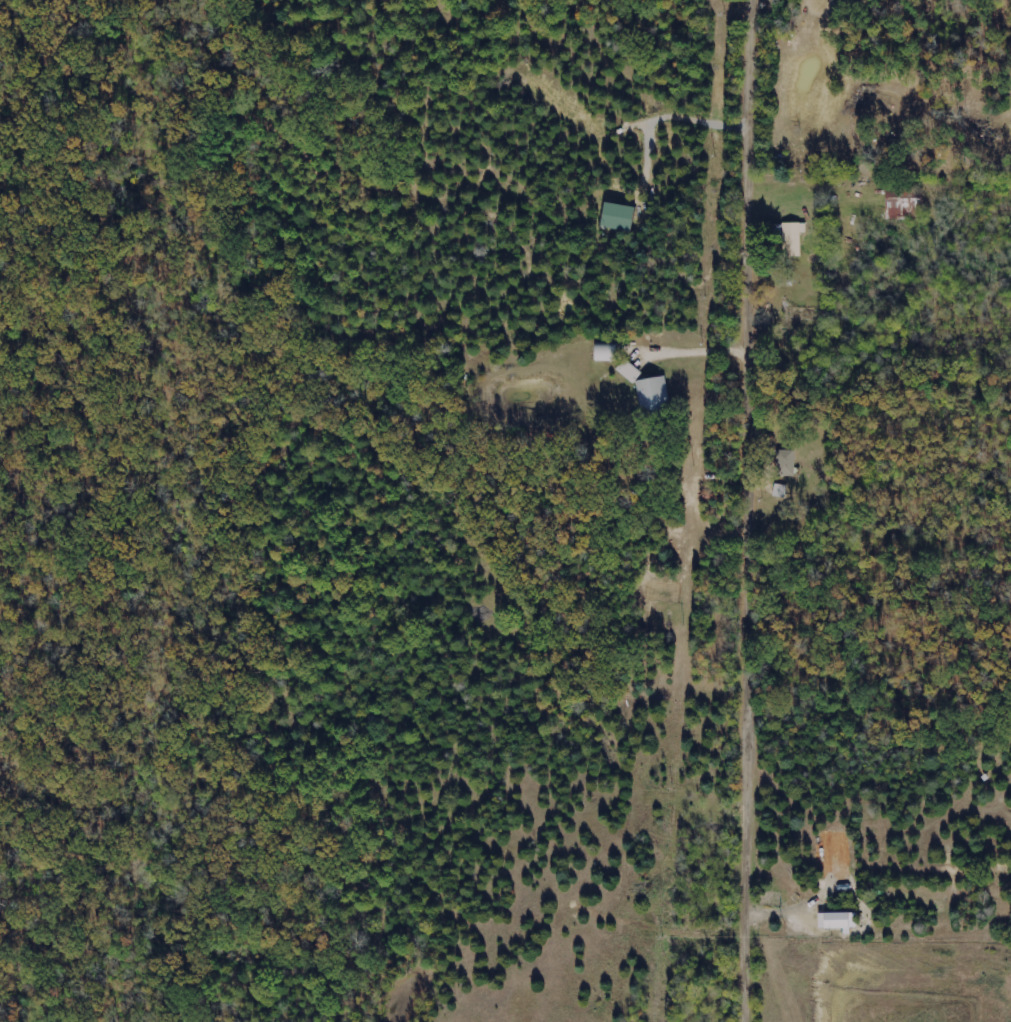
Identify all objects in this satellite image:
building: (792, 239)
road: (699, 351)
building: (629, 372)
building: (653, 394)
building: (785, 463)
building: (779, 491)
road: (756, 510)
building: (837, 921)

